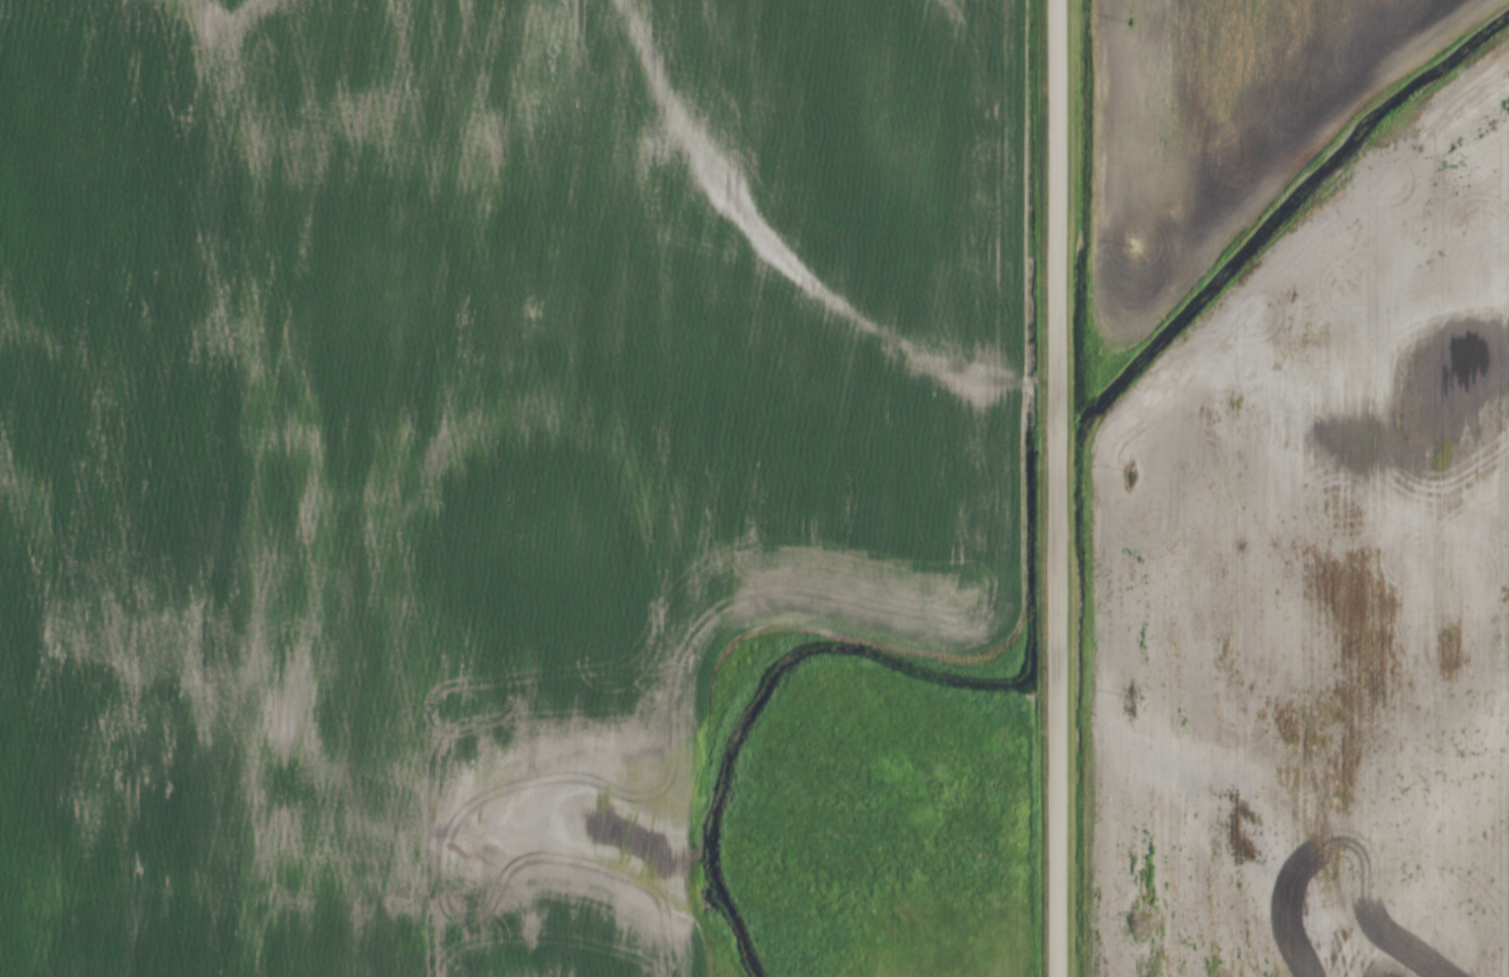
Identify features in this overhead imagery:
road: (1055, 488)
river: (1012, 503)

